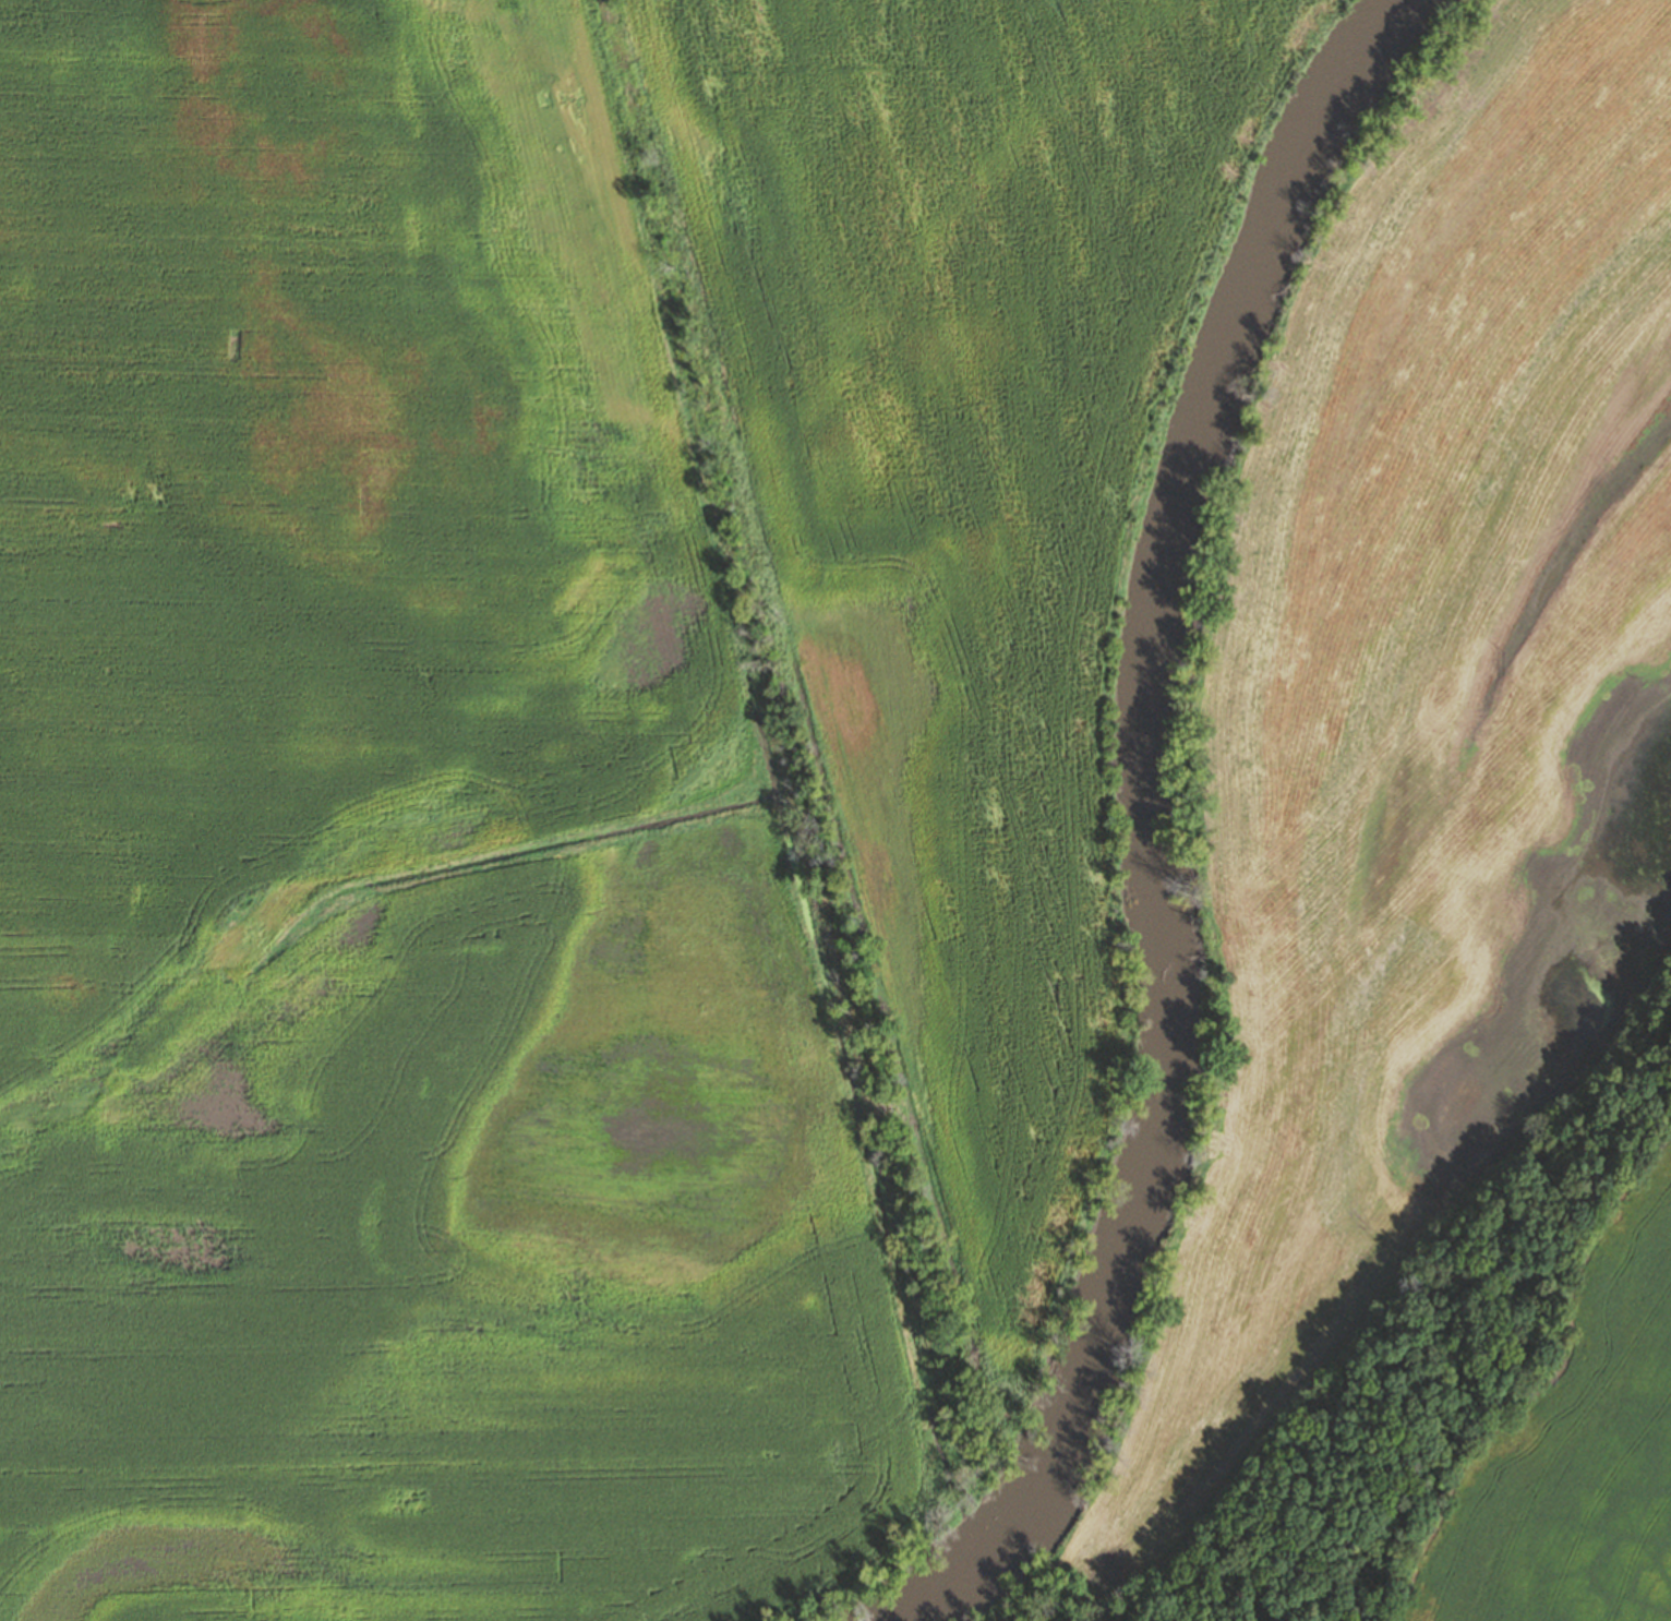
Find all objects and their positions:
river: (1163, 825)
road: (1164, 1525)

